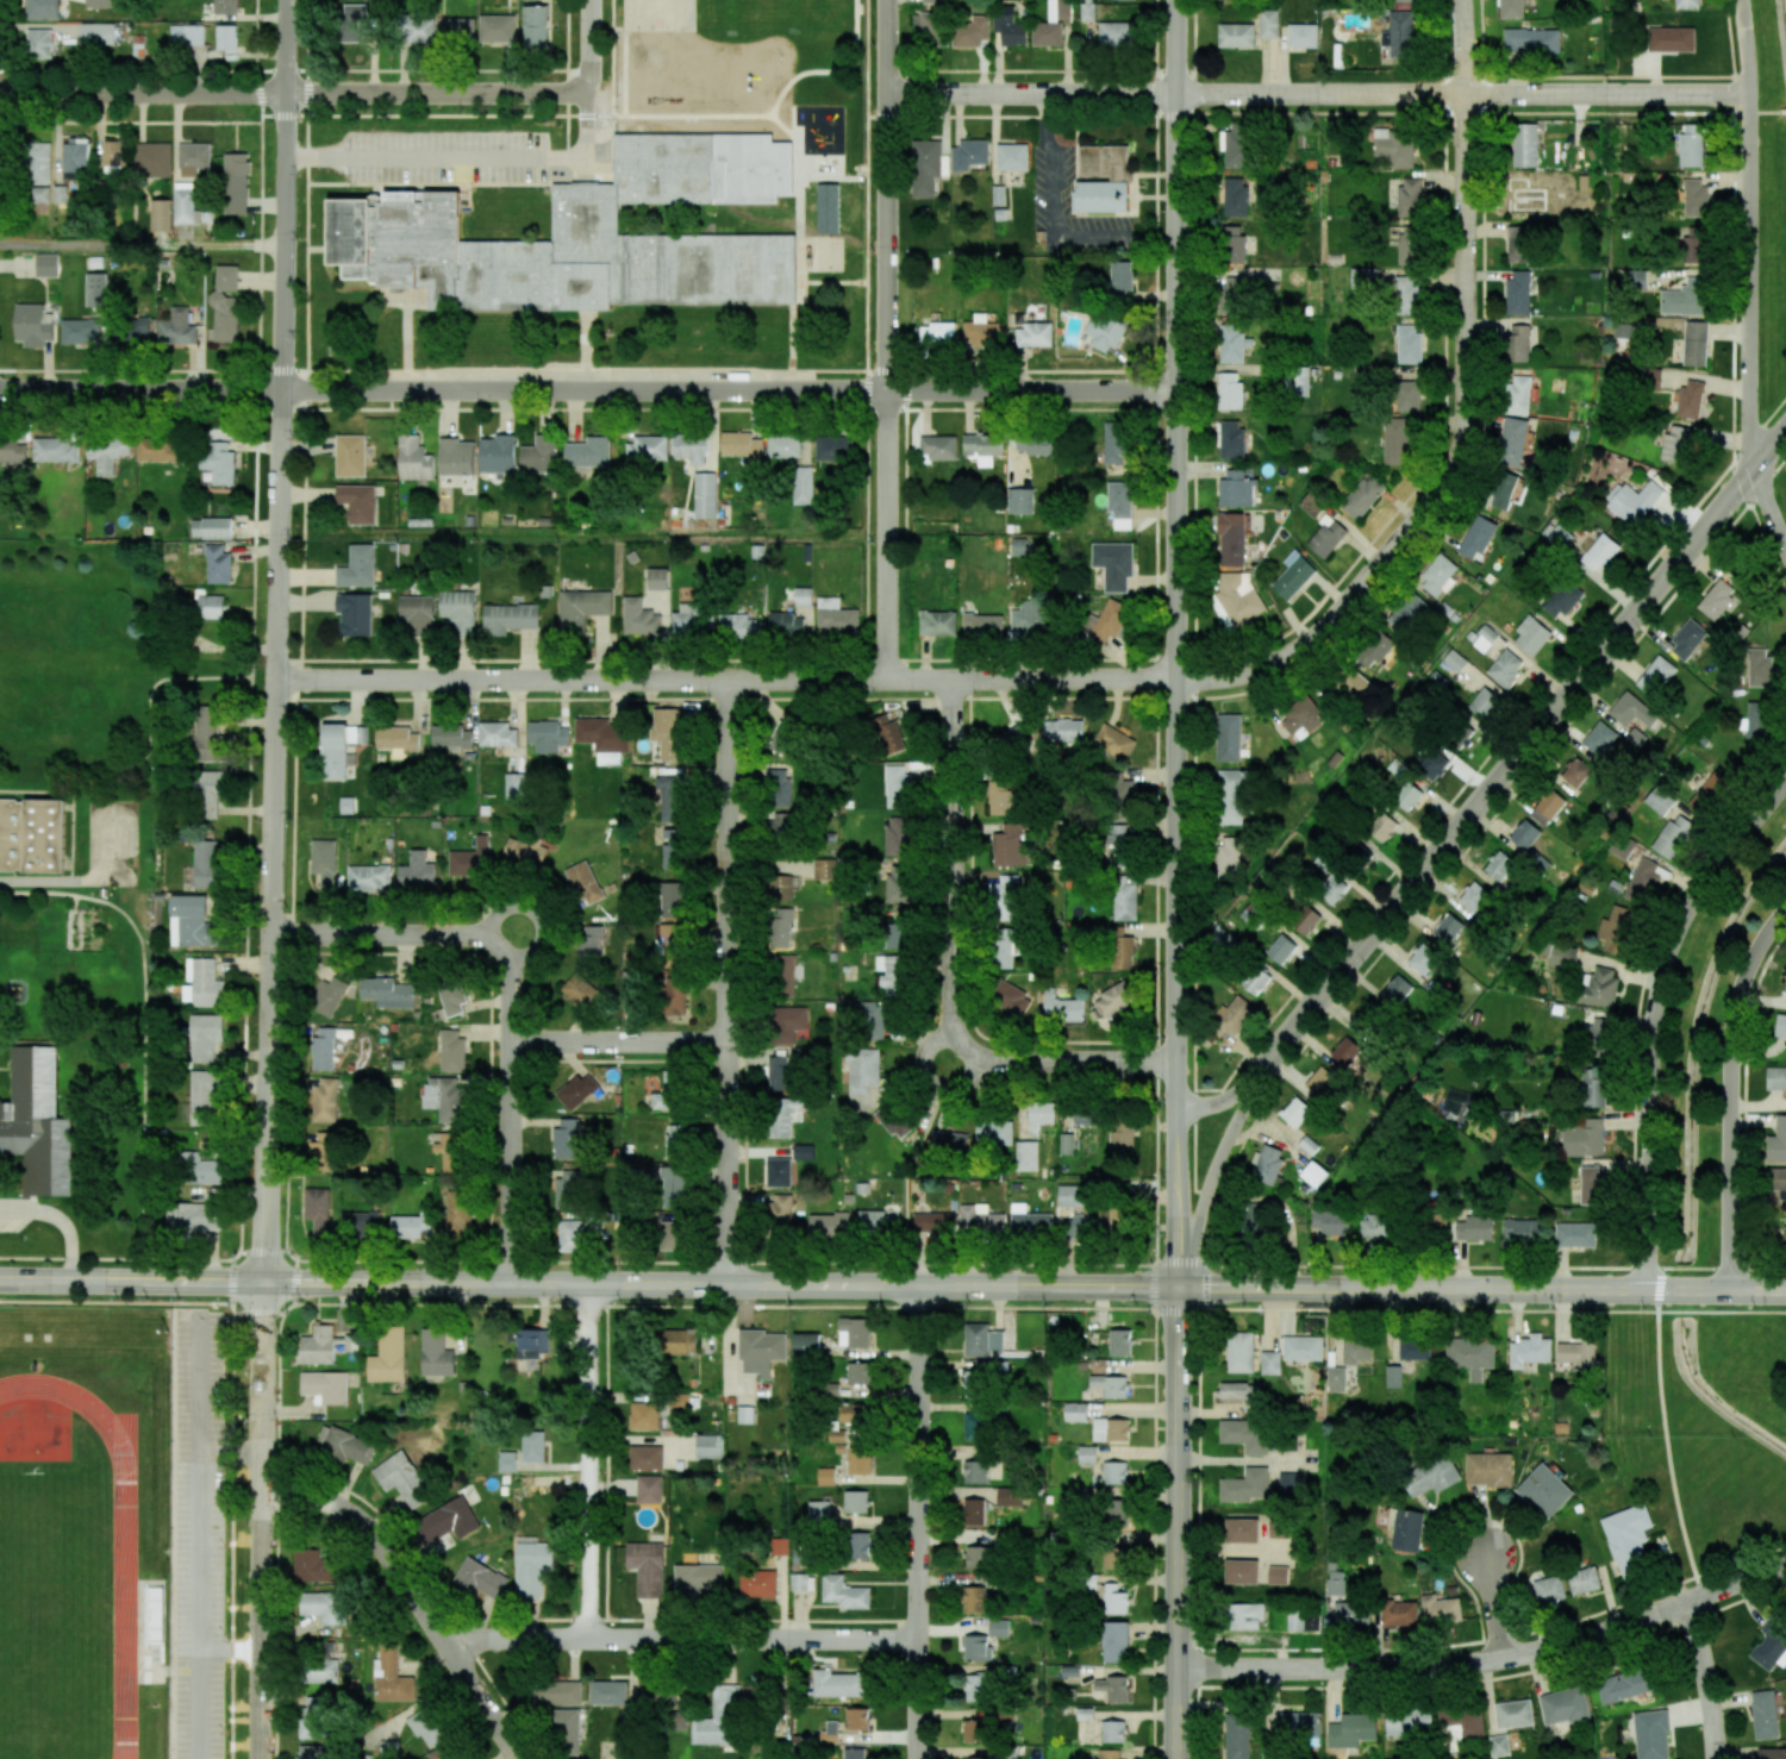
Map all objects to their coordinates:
building: (1401, 0)
building: (931, 1)
building: (99, 4)
building: (1686, 4)
building: (226, 6)
building: (1511, 8)
building: (42, 10)
building: (1088, 11)
building: (354, 20)
building: (1268, 24)
building: (535, 26)
building: (1008, 26)
building: (930, 27)
building: (419, 29)
building: (497, 29)
building: (460, 30)
building: (970, 32)
building: (96, 33)
building: (1116, 33)
building: (1398, 33)
building: (187, 35)
building: (1236, 35)
building: (1303, 35)
building: (226, 37)
road: (589, 38)
building: (1671, 38)
building: (1531, 40)
building: (38, 43)
road: (583, 81)
road: (291, 92)
road: (1319, 94)
road: (1782, 111)
road: (1186, 112)
road: (1487, 112)
road: (1043, 124)
building: (1236, 145)
building: (1525, 145)
building: (1691, 145)
building: (1394, 146)
building: (113, 152)
building: (968, 155)
building: (193, 157)
building: (1012, 157)
building: (75, 158)
road: (472, 158)
building: (152, 159)
building: (37, 162)
building: (1104, 162)
building: (926, 167)
building: (236, 183)
road: (1054, 190)
building: (60, 194)
building: (40, 195)
building: (1103, 196)
building: (1235, 196)
building: (1410, 196)
building: (1696, 198)
building: (183, 202)
building: (162, 215)
road: (1749, 232)
building: (589, 236)
road: (1113, 240)
road: (140, 244)
building: (1232, 244)
building: (1518, 244)
building: (1409, 245)
building: (1693, 245)
building: (46, 264)
building: (226, 277)
building: (1120, 277)
building: (1362, 277)
building: (1634, 278)
building: (95, 289)
building: (1518, 292)
building: (1406, 295)
building: (1230, 296)
building: (1685, 299)
building: (225, 318)
road: (1466, 318)
building: (33, 325)
building: (138, 326)
building: (176, 327)
building: (80, 331)
building: (1104, 331)
building: (937, 333)
building: (1033, 333)
building: (979, 334)
road: (280, 339)
road: (886, 340)
building: (1231, 343)
building: (1407, 343)
building: (1694, 343)
building: (1517, 344)
building: (1648, 377)
building: (1297, 382)
road: (588, 389)
building: (1230, 392)
building: (1407, 395)
building: (1518, 395)
building: (1690, 399)
building: (1231, 439)
building: (1395, 440)
building: (1512, 442)
building: (1117, 443)
building: (1033, 444)
building: (1675, 444)
building: (742, 446)
building: (783, 446)
building: (938, 446)
building: (160, 447)
building: (691, 447)
building: (832, 447)
building: (982, 447)
building: (55, 449)
building: (647, 449)
building: (12, 451)
building: (107, 451)
building: (497, 453)
building: (539, 453)
building: (588, 453)
building: (217, 455)
building: (350, 455)
building: (456, 456)
building: (414, 458)
building: (803, 484)
building: (1237, 488)
building: (1503, 490)
building: (705, 495)
building: (1362, 496)
building: (1020, 500)
building: (1631, 501)
building: (358, 502)
building: (1119, 503)
road: (1769, 508)
building: (211, 528)
building: (1325, 537)
building: (1560, 537)
building: (1231, 538)
building: (1478, 538)
building: (1022, 546)
building: (1599, 552)
road: (1175, 555)
building: (218, 564)
building: (1113, 564)
building: (357, 566)
building: (1293, 575)
building: (1438, 575)
building: (657, 578)
building: (803, 596)
building: (1561, 599)
building: (1237, 600)
building: (1718, 600)
building: (211, 607)
building: (581, 608)
building: (460, 611)
building: (418, 613)
building: (1409, 613)
building: (355, 614)
building: (836, 616)
building: (508, 618)
building: (641, 618)
building: (1029, 619)
building: (1105, 620)
building: (686, 621)
building: (937, 622)
building: (786, 625)
building: (982, 625)
building: (737, 627)
building: (1530, 636)
building: (1484, 638)
building: (1687, 638)
building: (1378, 650)
building: (1454, 661)
road: (1274, 665)
building: (1505, 668)
building: (1759, 668)
building: (1656, 676)
road: (723, 680)
building: (1350, 683)
building: (1484, 702)
building: (1631, 711)
building: (1303, 718)
park: (87, 719)
building: (1755, 720)
building: (1062, 731)
building: (668, 732)
building: (206, 733)
building: (497, 734)
building: (887, 734)
building: (548, 735)
building: (1013, 737)
building: (1228, 737)
building: (1462, 737)
building: (396, 738)
building: (452, 738)
building: (602, 738)
building: (1599, 738)
building: (782, 740)
building: (1114, 741)
road: (148, 749)
road: (1520, 749)
building: (333, 751)
building: (1434, 763)
building: (1575, 772)
building: (514, 784)
building: (897, 787)
building: (779, 788)
building: (1711, 788)
building: (210, 793)
building: (1120, 793)
building: (1407, 795)
building: (1231, 796)
building: (999, 797)
building: (1659, 801)
building: (669, 802)
building: (1547, 807)
building: (780, 824)
building: (1382, 826)
building: (1524, 834)
building: (1673, 834)
building: (31, 835)
building: (897, 835)
building: (1118, 835)
building: (1007, 845)
building: (673, 849)
building: (524, 855)
building: (1360, 855)
building: (1229, 857)
building: (470, 859)
building: (324, 862)
building: (207, 864)
building: (1499, 865)
building: (824, 869)
building: (417, 870)
road: (953, 871)
building: (369, 877)
road: (87, 878)
building: (1641, 881)
building: (585, 883)
building: (898, 884)
building: (780, 887)
building: (1331, 889)
building: (1003, 896)
building: (1474, 896)
building: (670, 900)
building: (1125, 904)
building: (1305, 920)
building: (193, 921)
building: (780, 927)
building: (1448, 927)
building: (1617, 931)
road: (391, 932)
building: (897, 935)
building: (1220, 939)
building: (589, 944)
building: (669, 945)
building: (1004, 946)
building: (1280, 949)
building: (1120, 950)
building: (1560, 954)
building: (1423, 958)
building: (782, 975)
building: (892, 975)
building: (1255, 978)
road: (270, 979)
road: (727, 982)
building: (204, 983)
building: (1785, 984)
building: (1597, 987)
building: (1397, 989)
building: (580, 991)
building: (387, 993)
building: (329, 996)
building: (673, 996)
building: (452, 997)
building: (1011, 999)
building: (1113, 999)
building: (1063, 1009)
road: (1655, 1014)
building: (1232, 1016)
building: (872, 1020)
building: (786, 1024)
building: (1780, 1026)
building: (204, 1037)
road: (619, 1041)
building: (323, 1050)
building: (451, 1051)
building: (1345, 1051)
road: (1064, 1063)
building: (862, 1069)
building: (779, 1073)
building: (1775, 1078)
building: (1320, 1082)
building: (1593, 1087)
building: (575, 1090)
road: (1731, 1091)
building: (667, 1093)
building: (205, 1097)
building: (443, 1097)
building: (325, 1100)
road: (1220, 1102)
building: (1456, 1106)
road: (510, 1108)
building: (1294, 1110)
building: (1039, 1114)
building: (781, 1115)
building: (1084, 1115)
building: (1505, 1116)
building: (894, 1119)
building: (37, 1123)
building: (994, 1134)
building: (1122, 1138)
building: (566, 1139)
building: (1584, 1139)
building: (674, 1141)
building: (1776, 1141)
building: (949, 1143)
building: (1066, 1143)
building: (450, 1150)
building: (803, 1151)
building: (320, 1152)
building: (1026, 1156)
building: (1267, 1164)
building: (200, 1169)
building: (778, 1172)
building: (1314, 1173)
road: (1212, 1178)
building: (1776, 1181)
building: (1592, 1184)
building: (673, 1185)
building: (567, 1189)
building: (1070, 1195)
road: (1178, 1198)
building: (317, 1209)
building: (780, 1212)
building: (458, 1213)
building: (193, 1215)
road: (61, 1219)
building: (980, 1219)
building: (872, 1221)
building: (1030, 1221)
building: (1254, 1222)
building: (1330, 1222)
building: (1432, 1223)
building: (360, 1225)
building: (411, 1226)
building: (829, 1226)
building: (933, 1226)
building: (1375, 1226)
building: (1474, 1228)
building: (1080, 1229)
building: (1520, 1231)
building: (1575, 1234)
building: (1785, 1234)
building: (570, 1235)
building: (669, 1235)
road: (1723, 1267)
road: (132, 1279)
traffic signals: (267, 1281)
road: (997, 1285)
traffic signals: (1179, 1288)
road: (1756, 1290)
road: (886, 1306)
building: (854, 1332)
building: (981, 1340)
building: (679, 1341)
building: (531, 1342)
building: (1119, 1342)
building: (805, 1344)
building: (323, 1345)
building: (1303, 1347)
building: (1413, 1348)
building: (761, 1351)
building: (1356, 1351)
building: (1239, 1352)
building: (1529, 1352)
building: (436, 1353)
building: (1575, 1353)
building: (388, 1356)
building: (1470, 1356)
building: (1269, 1363)
building: (857, 1373)
building: (1393, 1376)
building: (1335, 1378)
building: (974, 1384)
building: (1110, 1385)
building: (324, 1386)
building: (1075, 1411)
building: (853, 1413)
building: (745, 1414)
building: (644, 1415)
building: (975, 1426)
building: (1111, 1429)
road: (1667, 1433)
building: (1244, 1434)
building: (845, 1435)
building: (344, 1445)
building: (532, 1446)
building: (708, 1446)
building: (1086, 1454)
building: (645, 1457)
road: (588, 1459)
building: (858, 1459)
building: (507, 1461)
building: (1487, 1469)
building: (975, 1471)
building: (1114, 1472)
building: (825, 1476)
building: (1431, 1476)
building: (401, 1478)
building: (1287, 1482)
road: (199, 1484)
building: (1245, 1485)
building: (648, 1489)
building: (1544, 1490)
building: (1008, 1496)
building: (856, 1501)
building: (818, 1510)
building: (973, 1511)
building: (1114, 1513)
road: (261, 1519)
building: (448, 1520)
road: (918, 1522)
road: (1178, 1523)
building: (1242, 1530)
building: (1406, 1530)
building: (1628, 1538)
building: (861, 1545)
building: (1113, 1555)
building: (976, 1557)
building: (311, 1566)
building: (531, 1567)
building: (647, 1567)
building: (1241, 1571)
building: (1278, 1575)
building: (479, 1578)
building: (695, 1578)
building: (1582, 1580)
building: (801, 1582)
building: (1335, 1582)
building: (757, 1583)
building: (1549, 1589)
road: (416, 1590)
building: (844, 1592)
building: (974, 1598)
building: (1114, 1600)
road: (1492, 1600)
track: (124, 1605)
building: (323, 1605)
building: (1440, 1609)
building: (1398, 1611)
building: (1351, 1614)
building: (151, 1615)
park: (49, 1616)
building: (1241, 1616)
building: (1295, 1621)
building: (998, 1627)
road: (681, 1635)
building: (1114, 1641)
building: (976, 1648)
building: (1769, 1648)
road: (230, 1651)
road: (1488, 1660)
building: (321, 1665)
building: (391, 1677)
road: (1705, 1679)
building: (838, 1684)
building: (1625, 1684)
building: (976, 1688)
building: (1114, 1689)
building: (556, 1692)
building: (608, 1692)
building: (664, 1699)
road: (200, 1704)
building: (1563, 1705)
building: (1513, 1714)
building: (1763, 1714)
building: (316, 1716)
building: (718, 1719)
building: (857, 1719)
building: (1463, 1721)
building: (1299, 1722)
building: (1409, 1723)
building: (426, 1726)
building: (1351, 1729)
building: (566, 1730)
building: (975, 1730)
building: (1113, 1730)
building: (830, 1733)
building: (1651, 1734)
building: (1237, 1736)
building: (1499, 1745)
building: (387, 1749)
building: (311, 1752)
building: (443, 1753)
building: (854, 1753)
building: (1109, 1753)
building: (1772, 1753)
building: (978, 1758)

